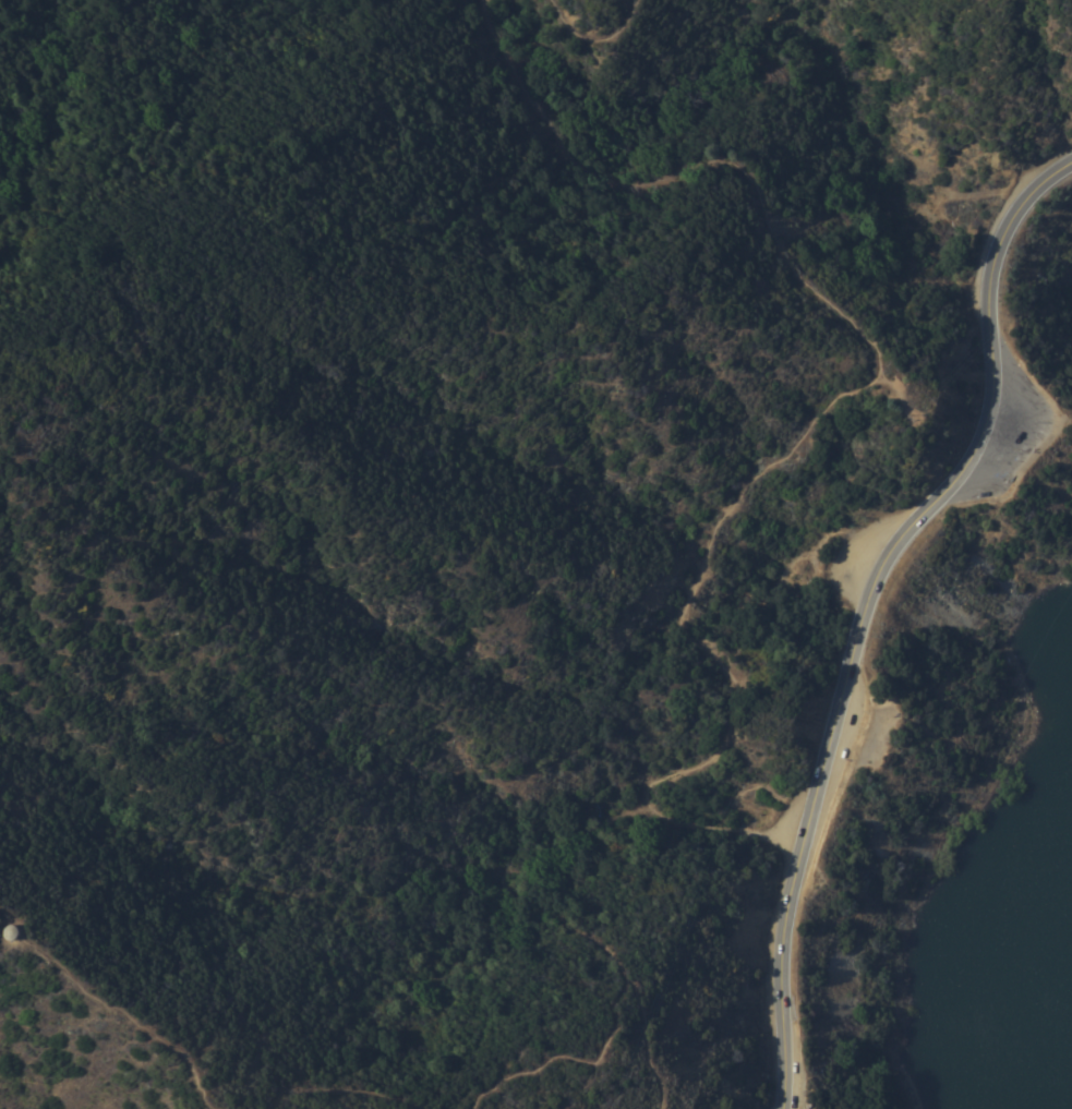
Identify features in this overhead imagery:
road: (593, 36)
road: (823, 406)
road: (867, 606)
road: (20, 917)
building: (12, 931)
road: (593, 941)
road: (128, 1017)
road: (647, 1041)
road: (333, 1095)

